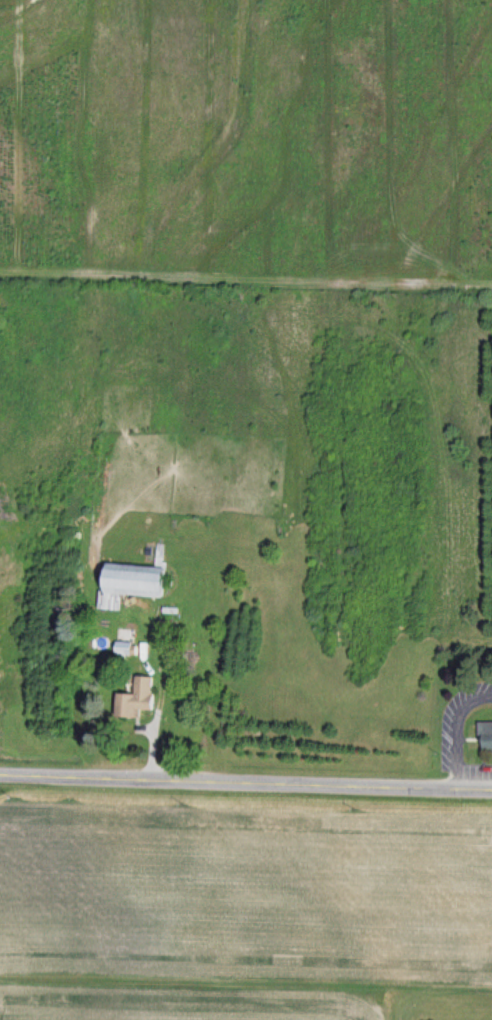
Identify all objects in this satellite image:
building: (129, 582)
building: (133, 700)
building: (485, 736)
road: (246, 780)

